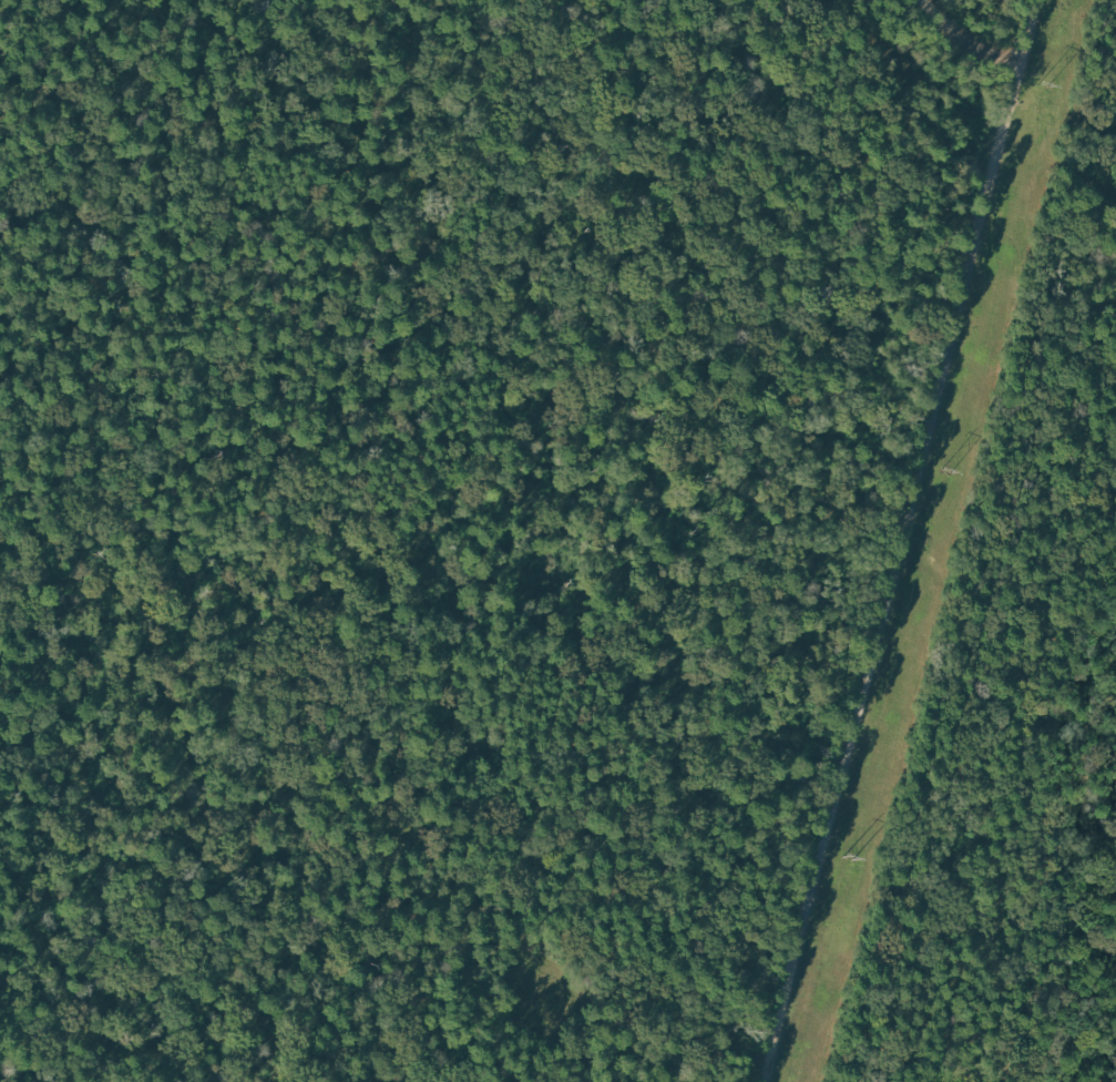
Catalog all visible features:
road: (964, 51)
power tower: (1044, 86)
power tower: (946, 471)
road: (904, 541)
power tower: (848, 859)

